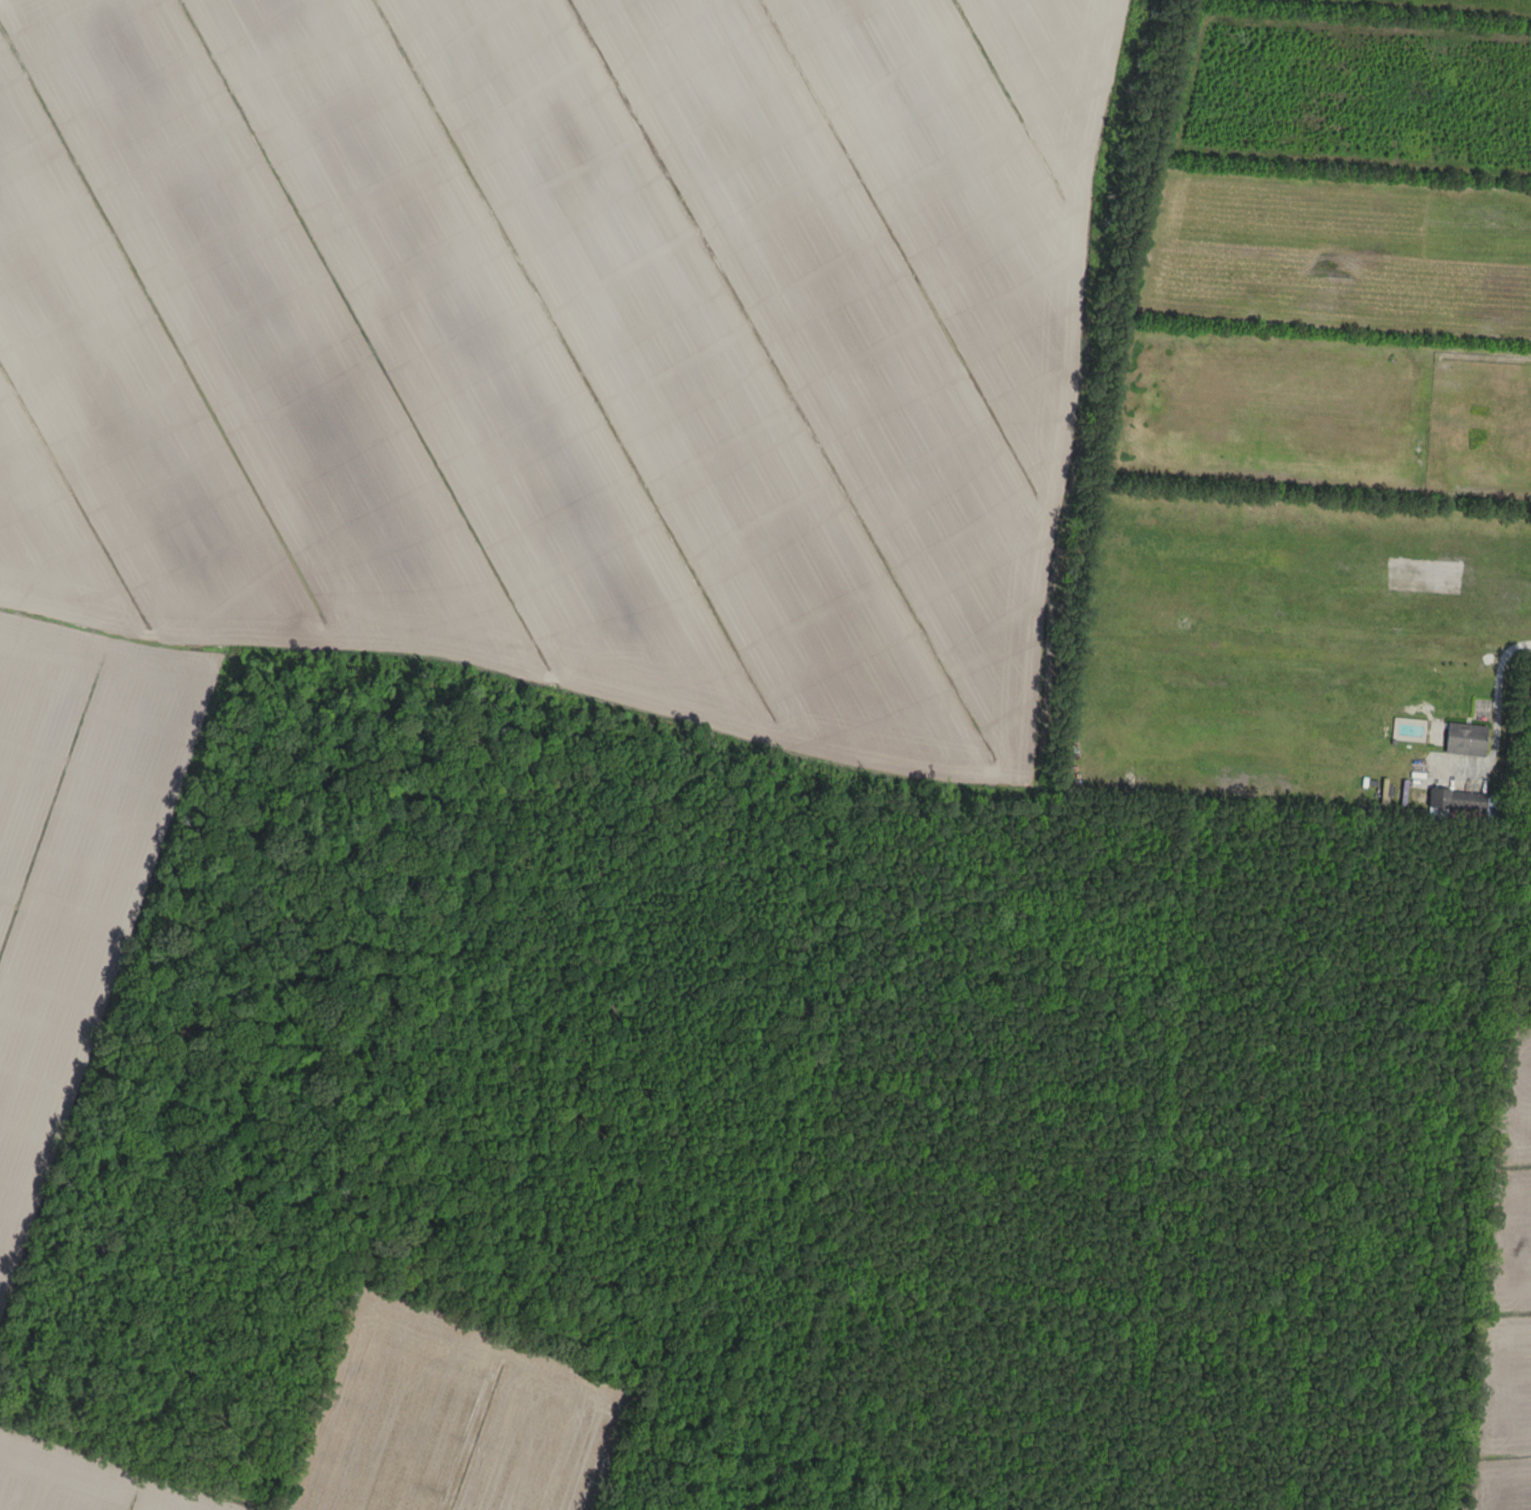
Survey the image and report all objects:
building: (1465, 740)
building: (1456, 802)

